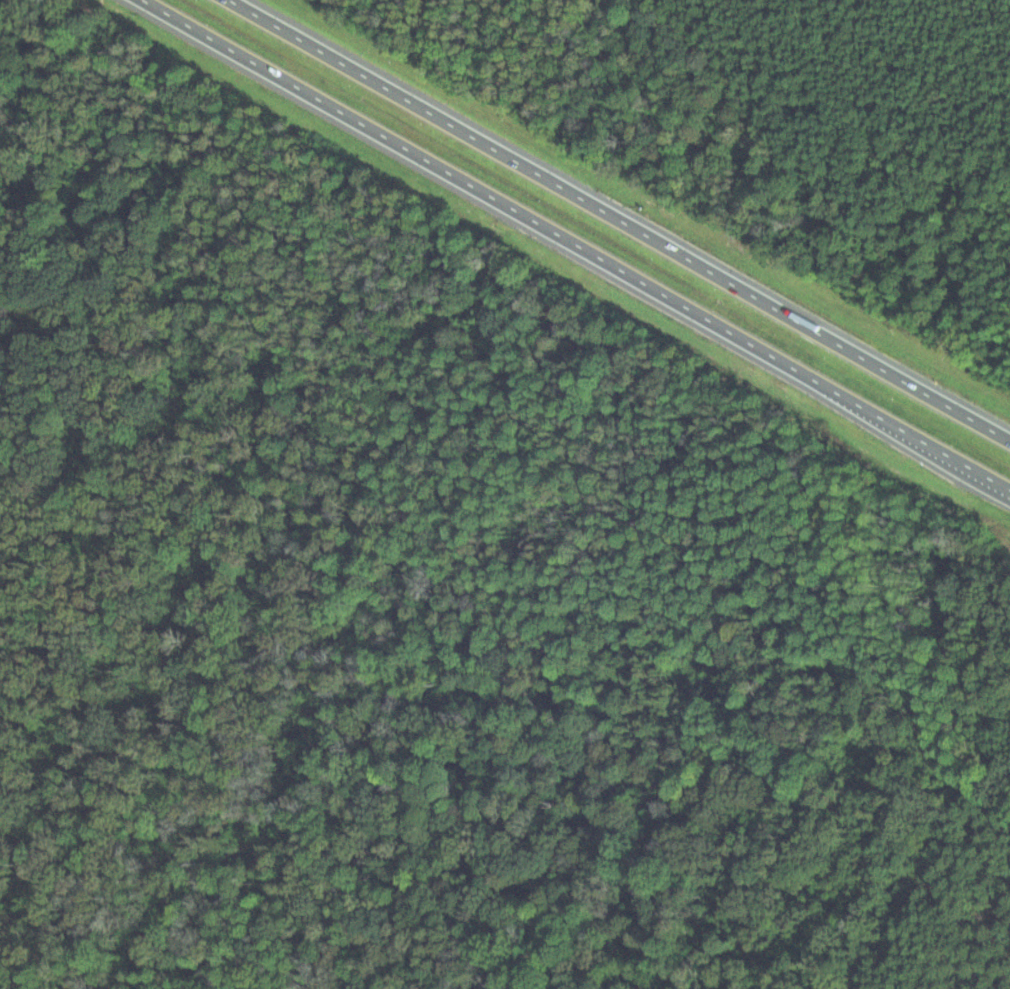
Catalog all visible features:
road: (621, 218)
road: (552, 229)
road: (985, 473)

